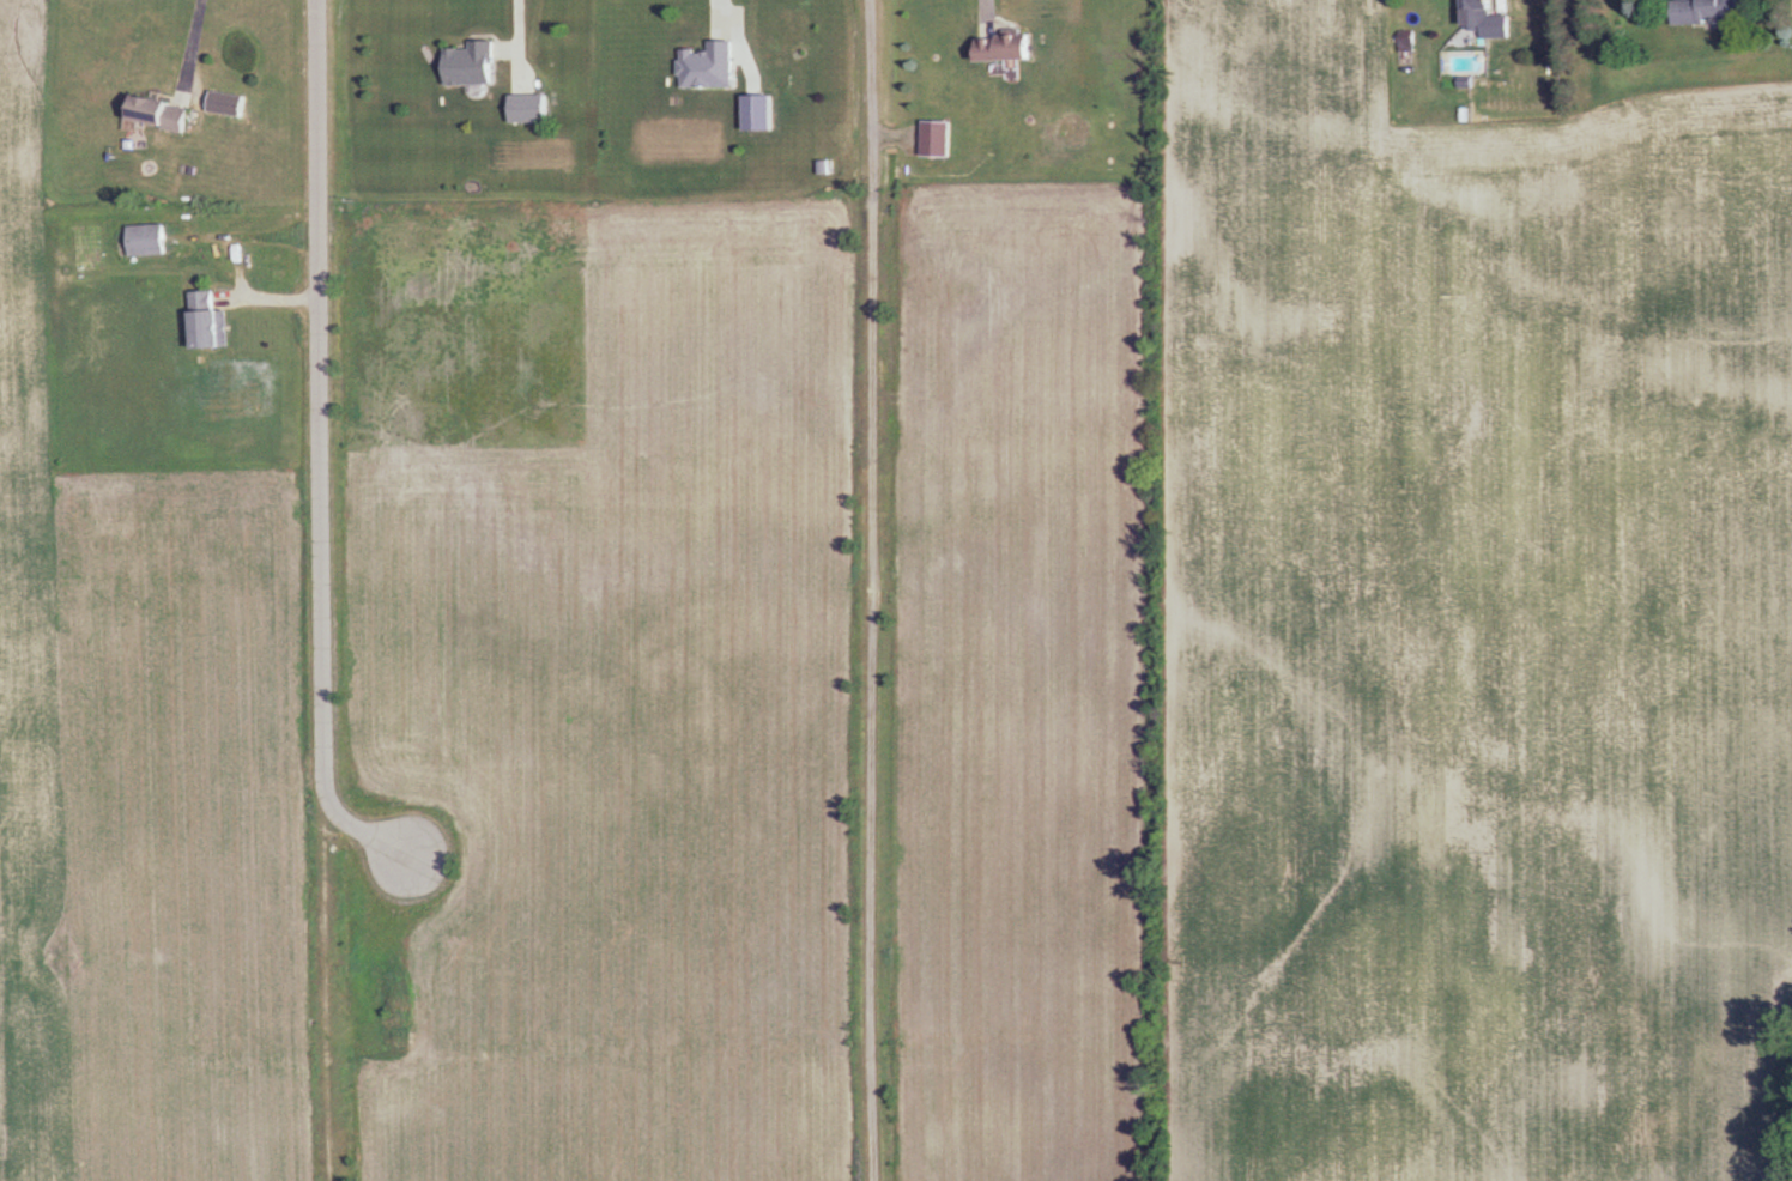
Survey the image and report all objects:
building: (1708, 11)
building: (1491, 19)
road: (497, 36)
road: (171, 41)
building: (1011, 44)
building: (471, 62)
road: (865, 63)
building: (708, 65)
building: (531, 107)
building: (165, 111)
building: (761, 111)
building: (938, 138)
building: (151, 240)
building: (212, 322)
road: (299, 444)

